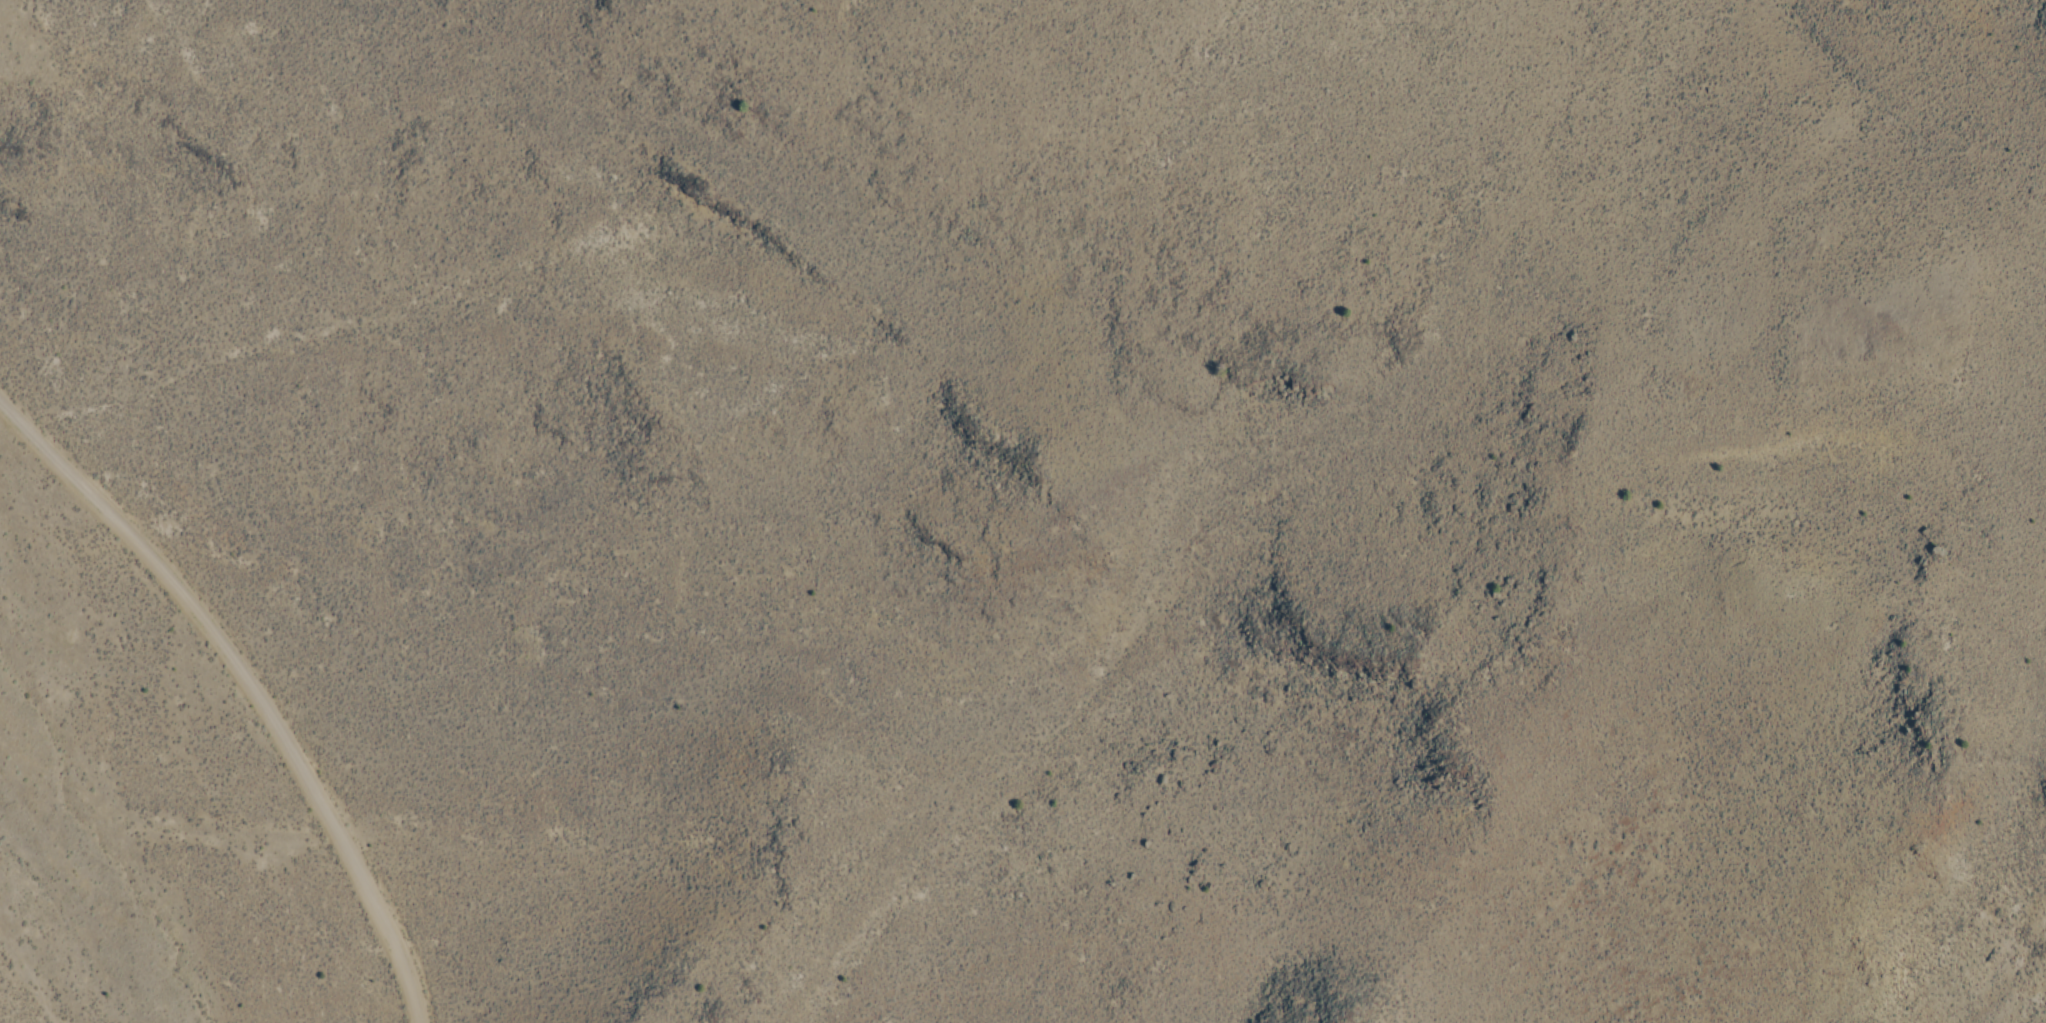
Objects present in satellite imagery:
road: (254, 684)

